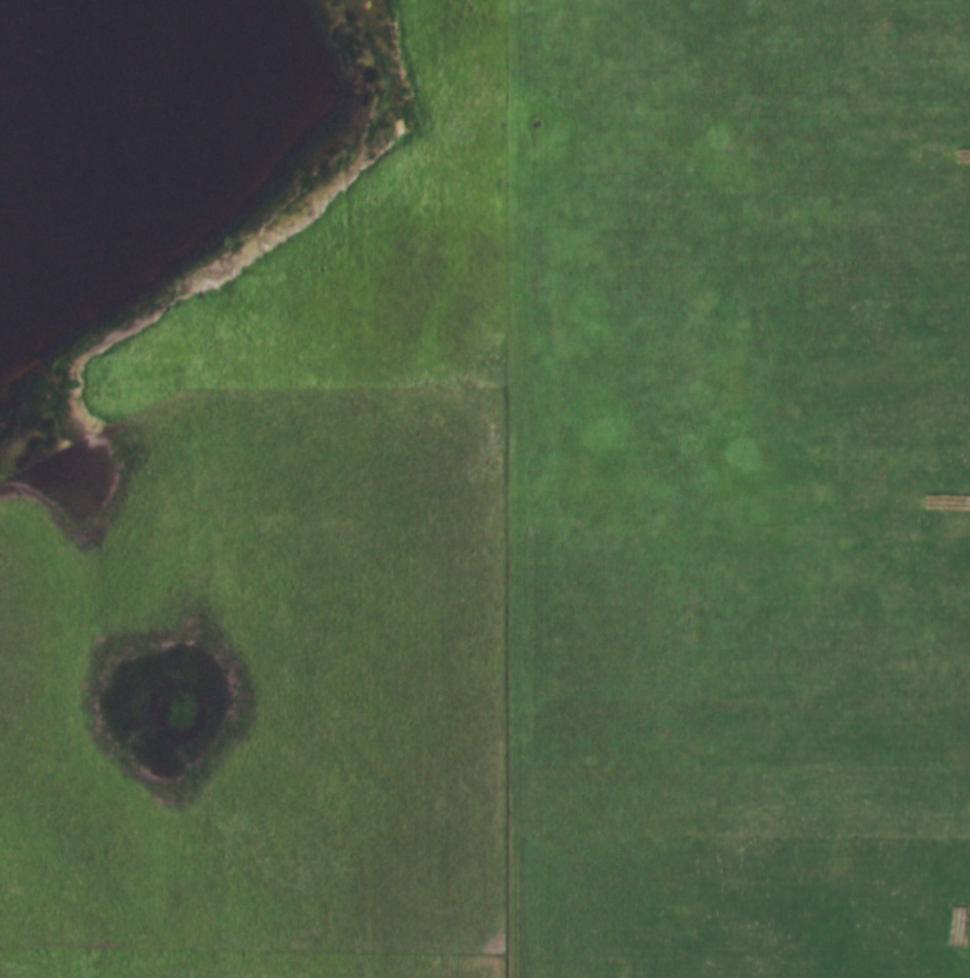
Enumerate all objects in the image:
road: (513, 488)

